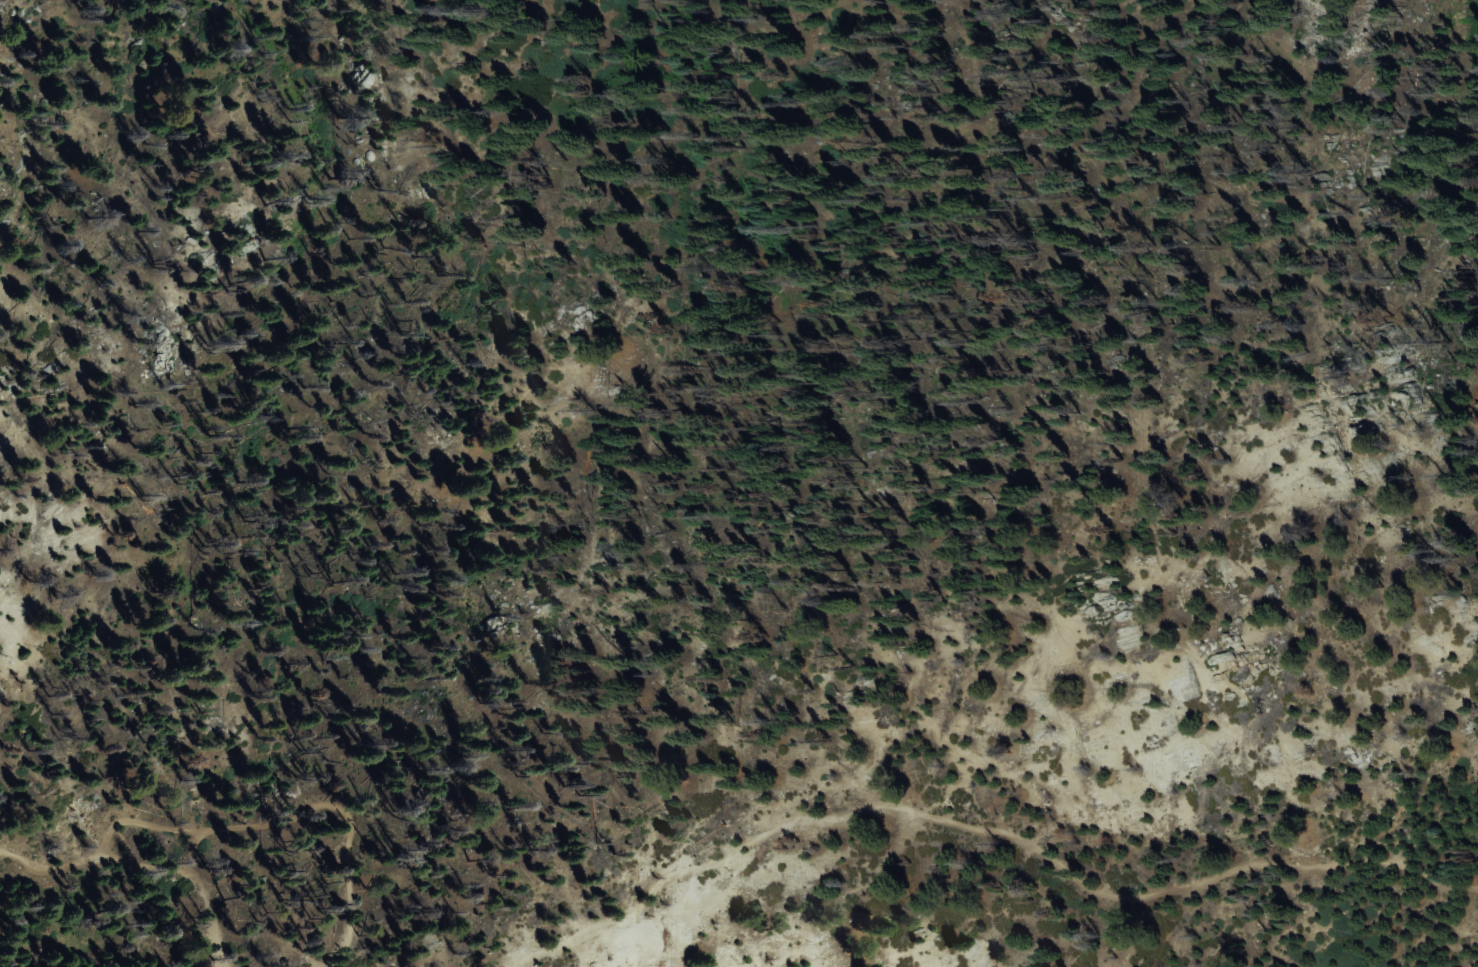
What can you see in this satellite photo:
building: (624, 92)
road: (156, 821)
road: (266, 822)
road: (993, 830)

